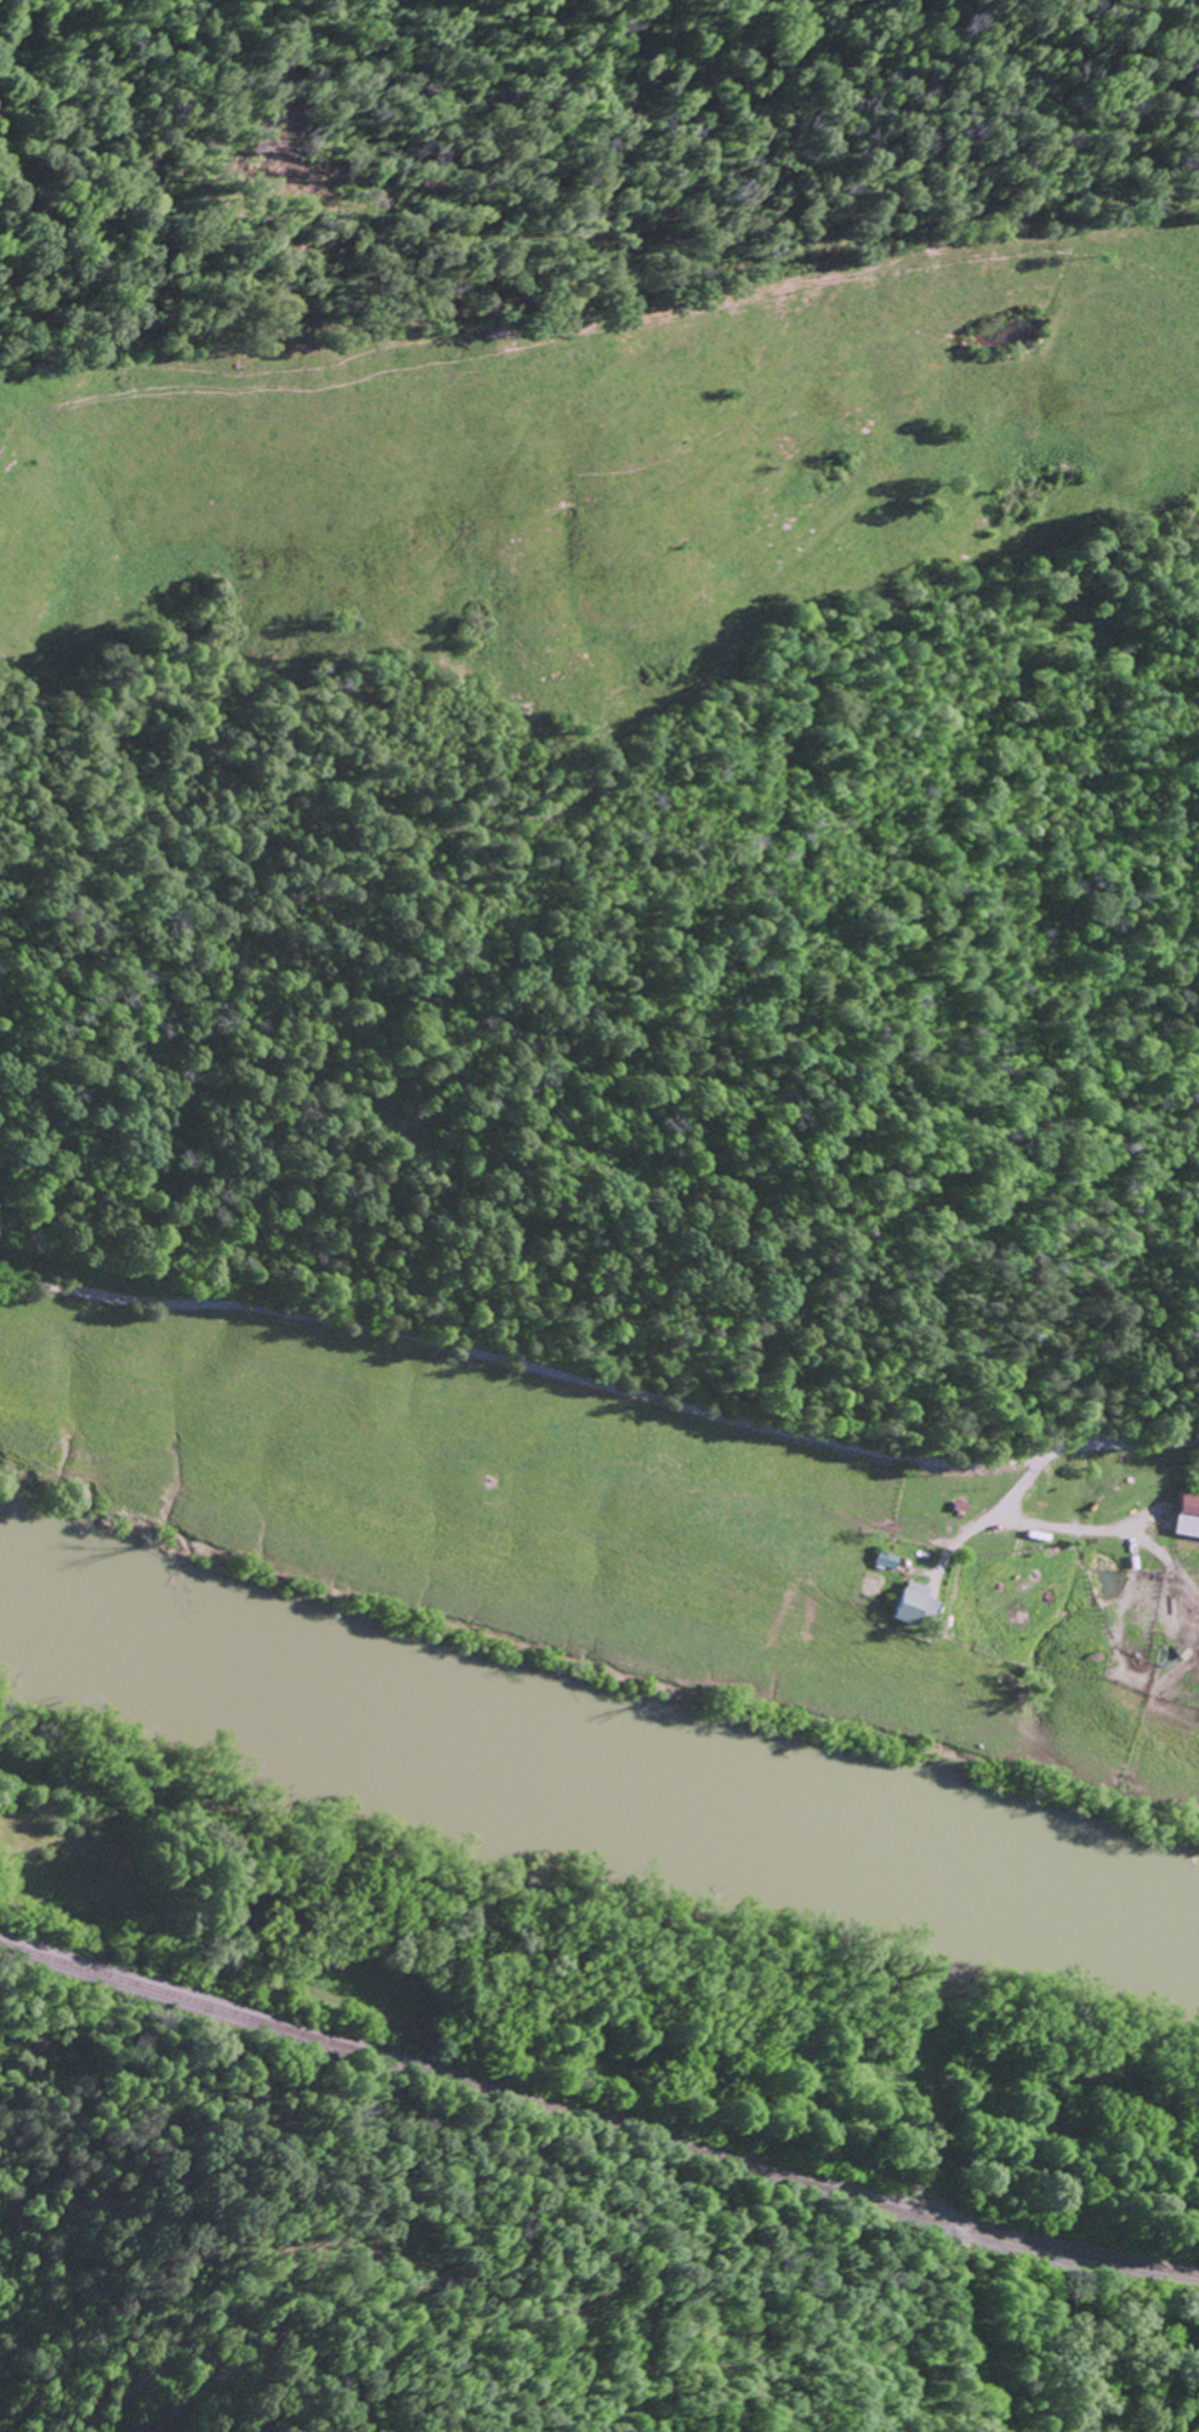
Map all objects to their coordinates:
road: (596, 1386)
building: (1188, 1512)
building: (911, 1602)
river: (595, 1766)
railway: (596, 2119)
road: (962, 2328)

